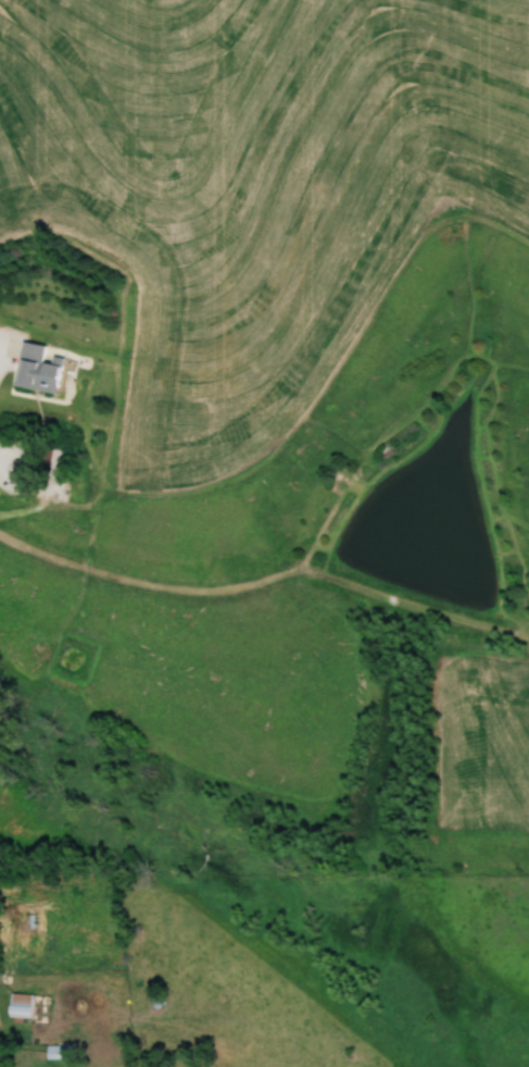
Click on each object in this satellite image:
building: (35, 370)
building: (20, 471)
building: (18, 1006)
building: (55, 1052)

